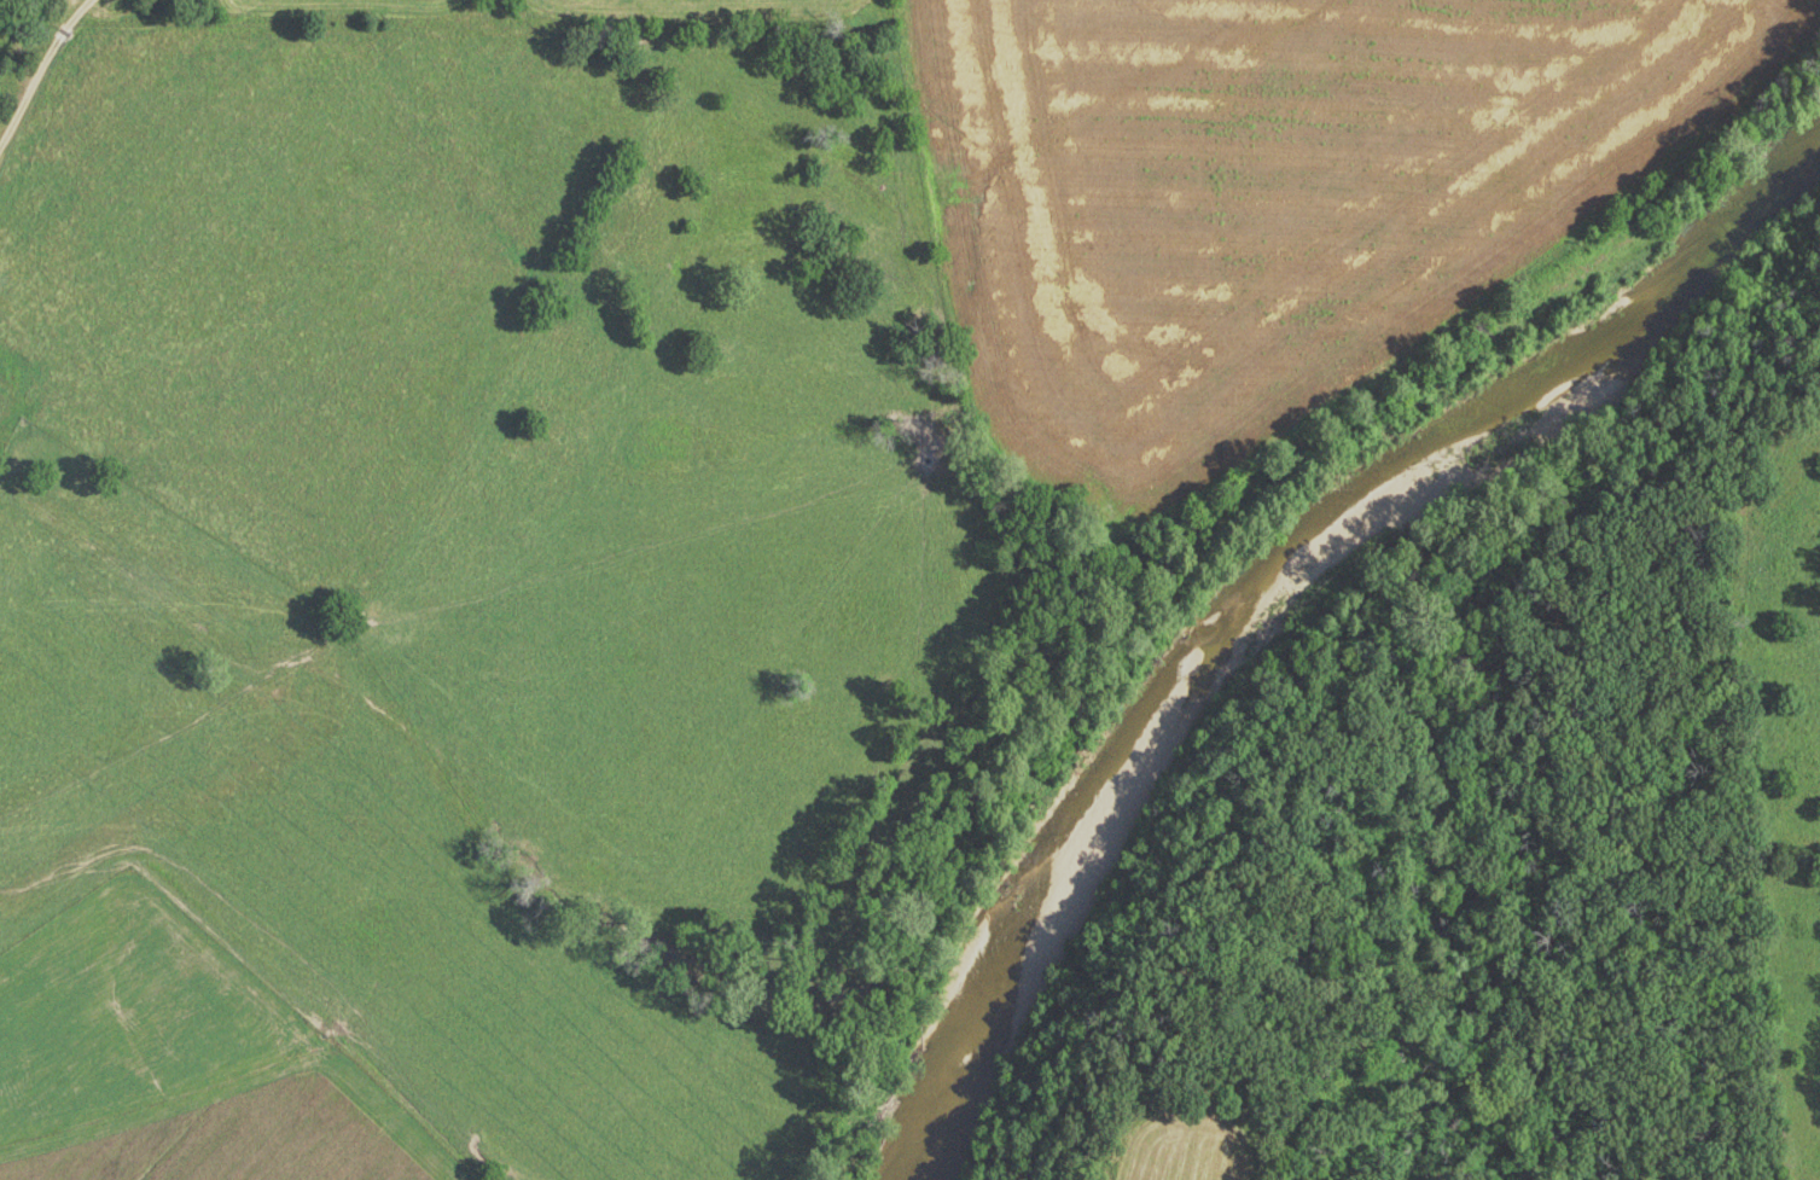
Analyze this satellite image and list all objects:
road: (46, 76)
river: (1279, 580)

